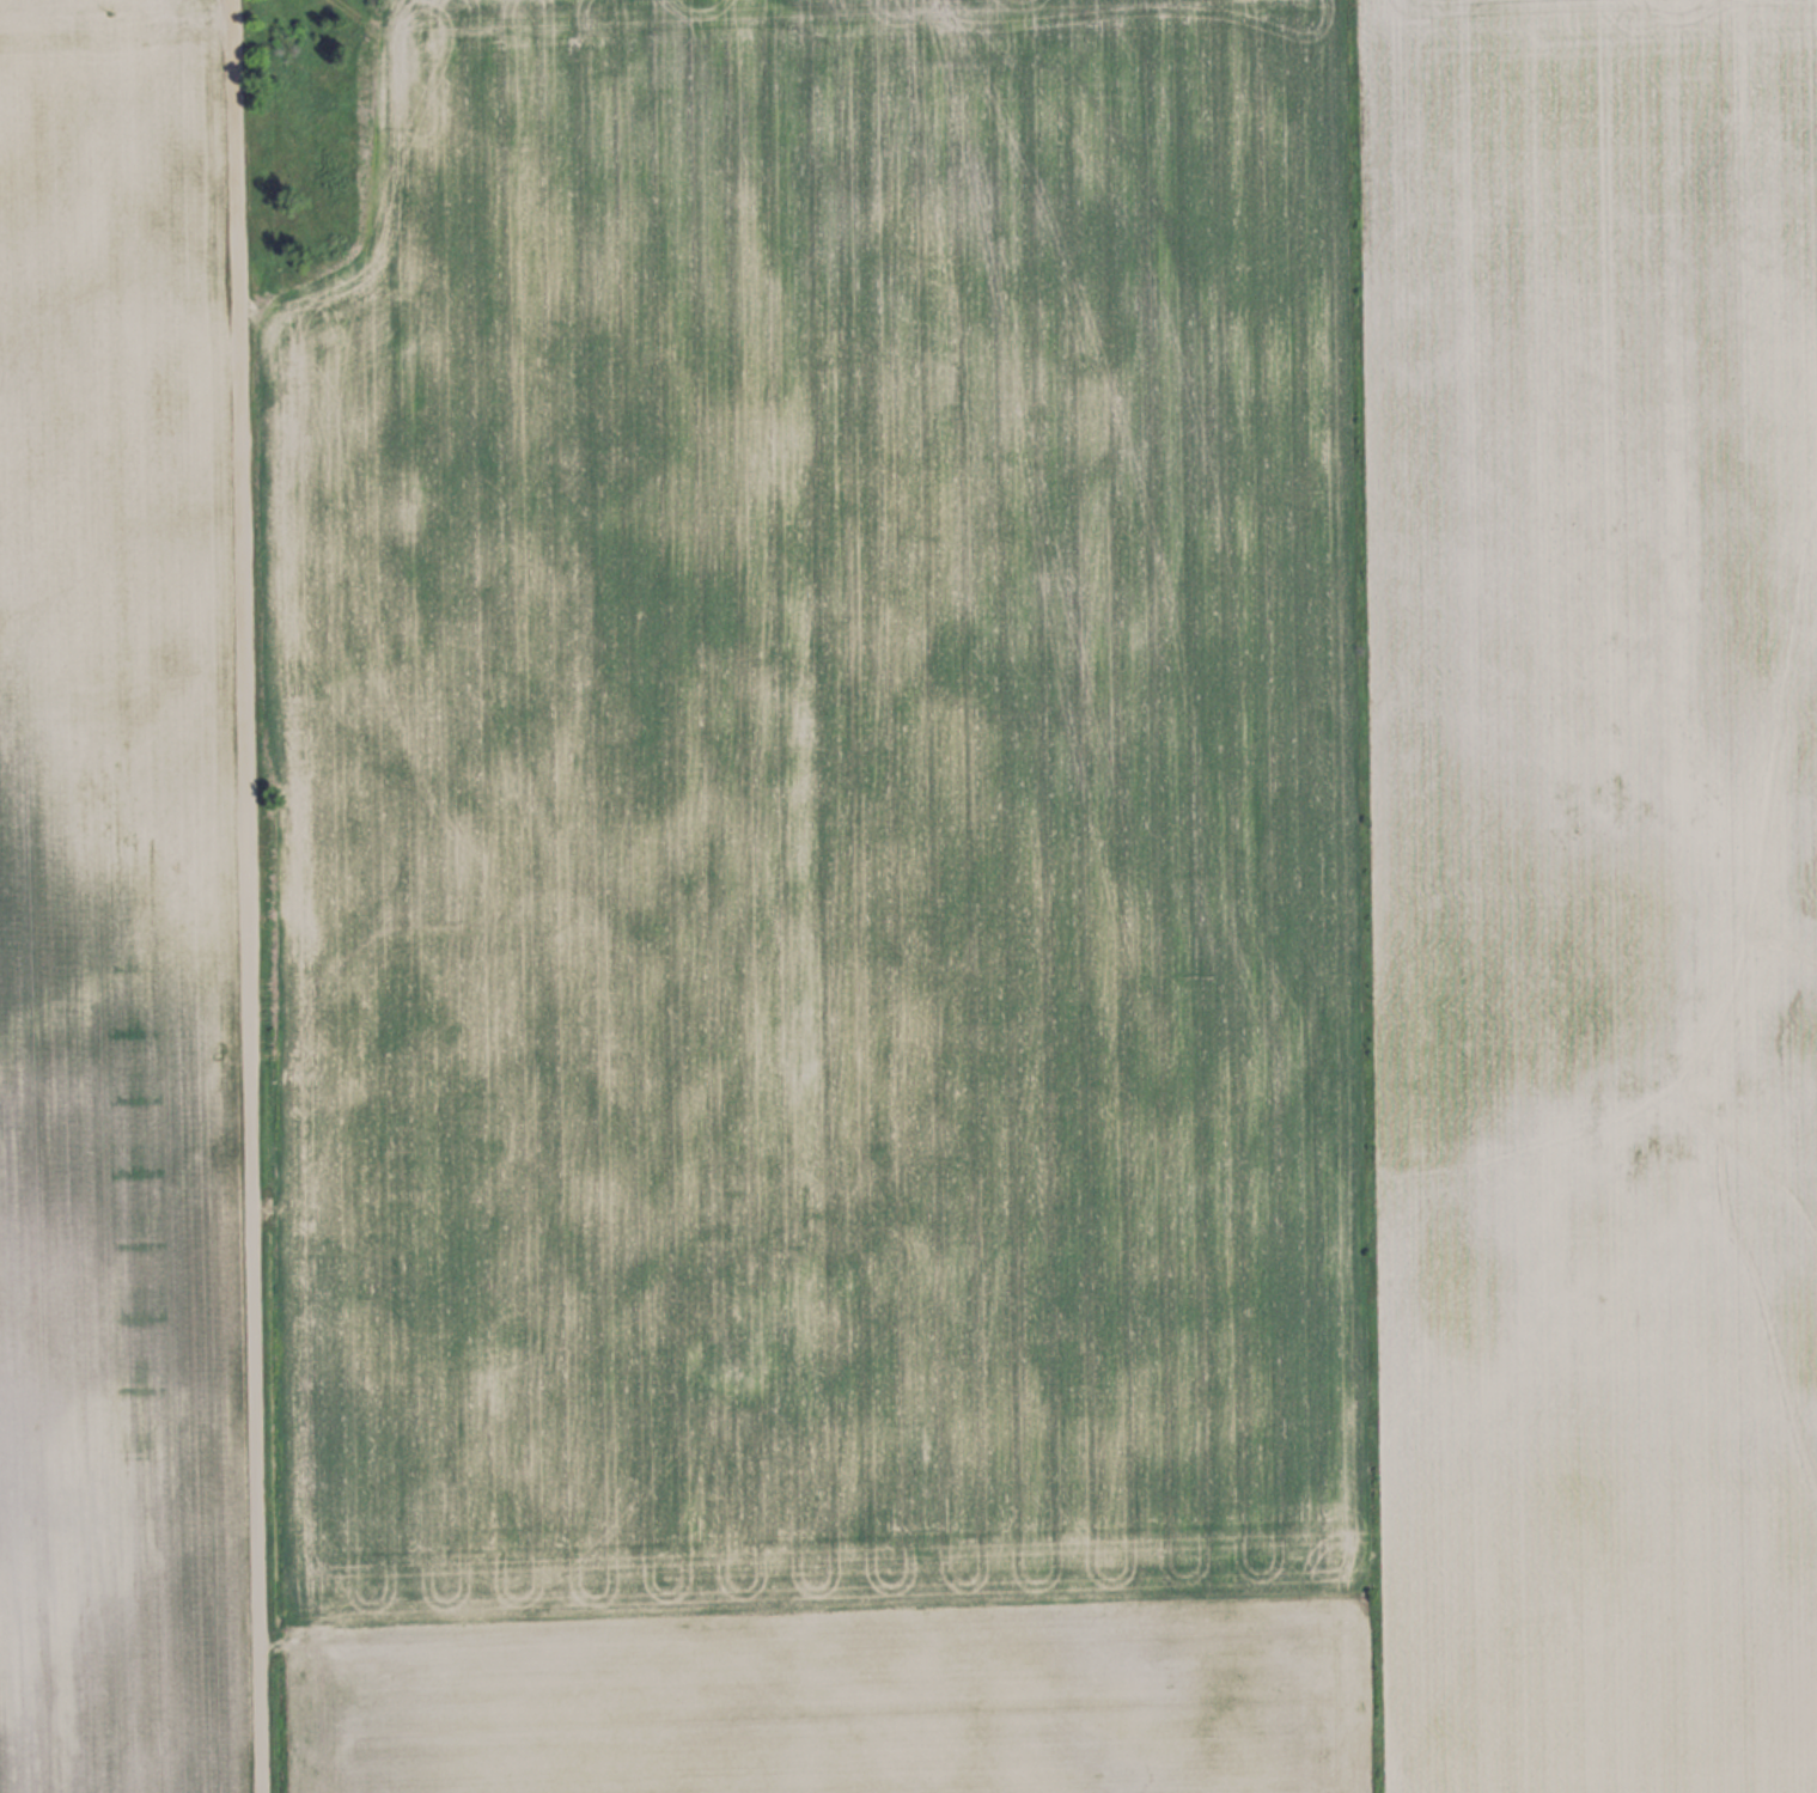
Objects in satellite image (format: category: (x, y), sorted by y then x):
road: (248, 896)

